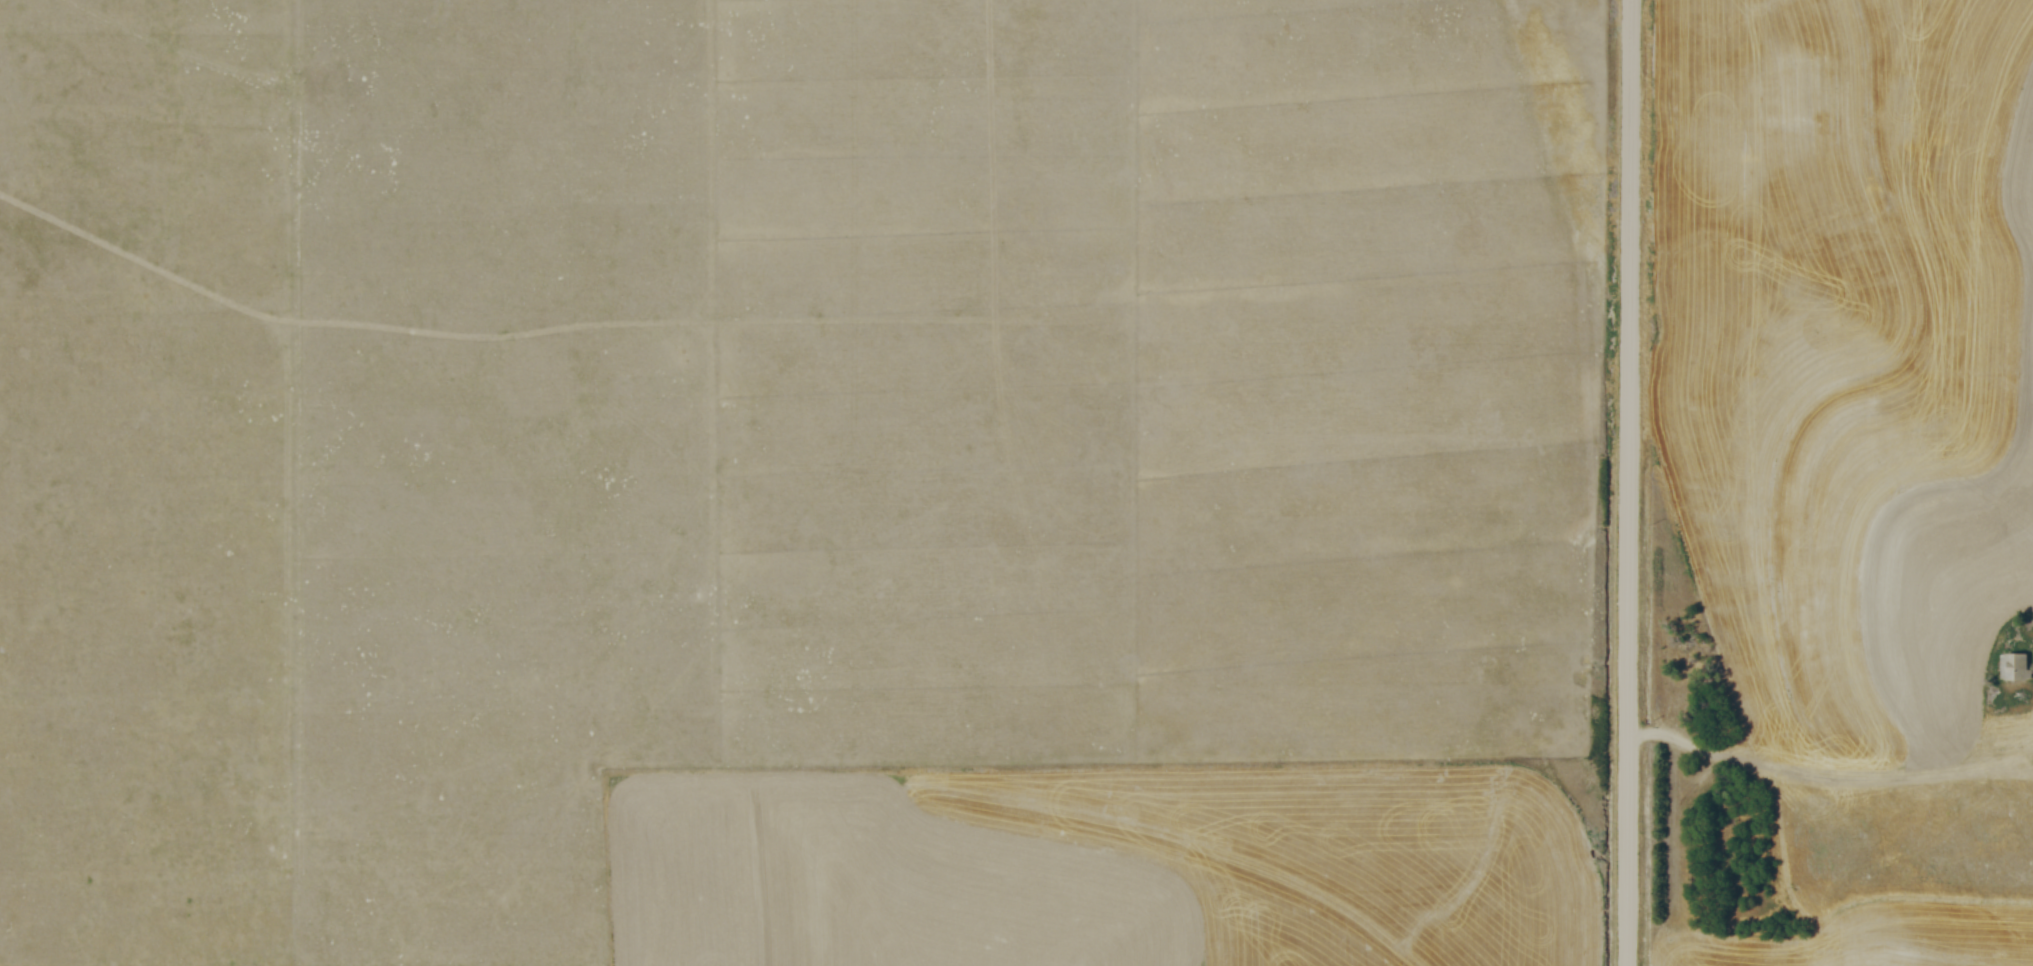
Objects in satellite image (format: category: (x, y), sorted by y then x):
road: (1632, 482)
building: (2015, 665)
road: (1829, 765)

